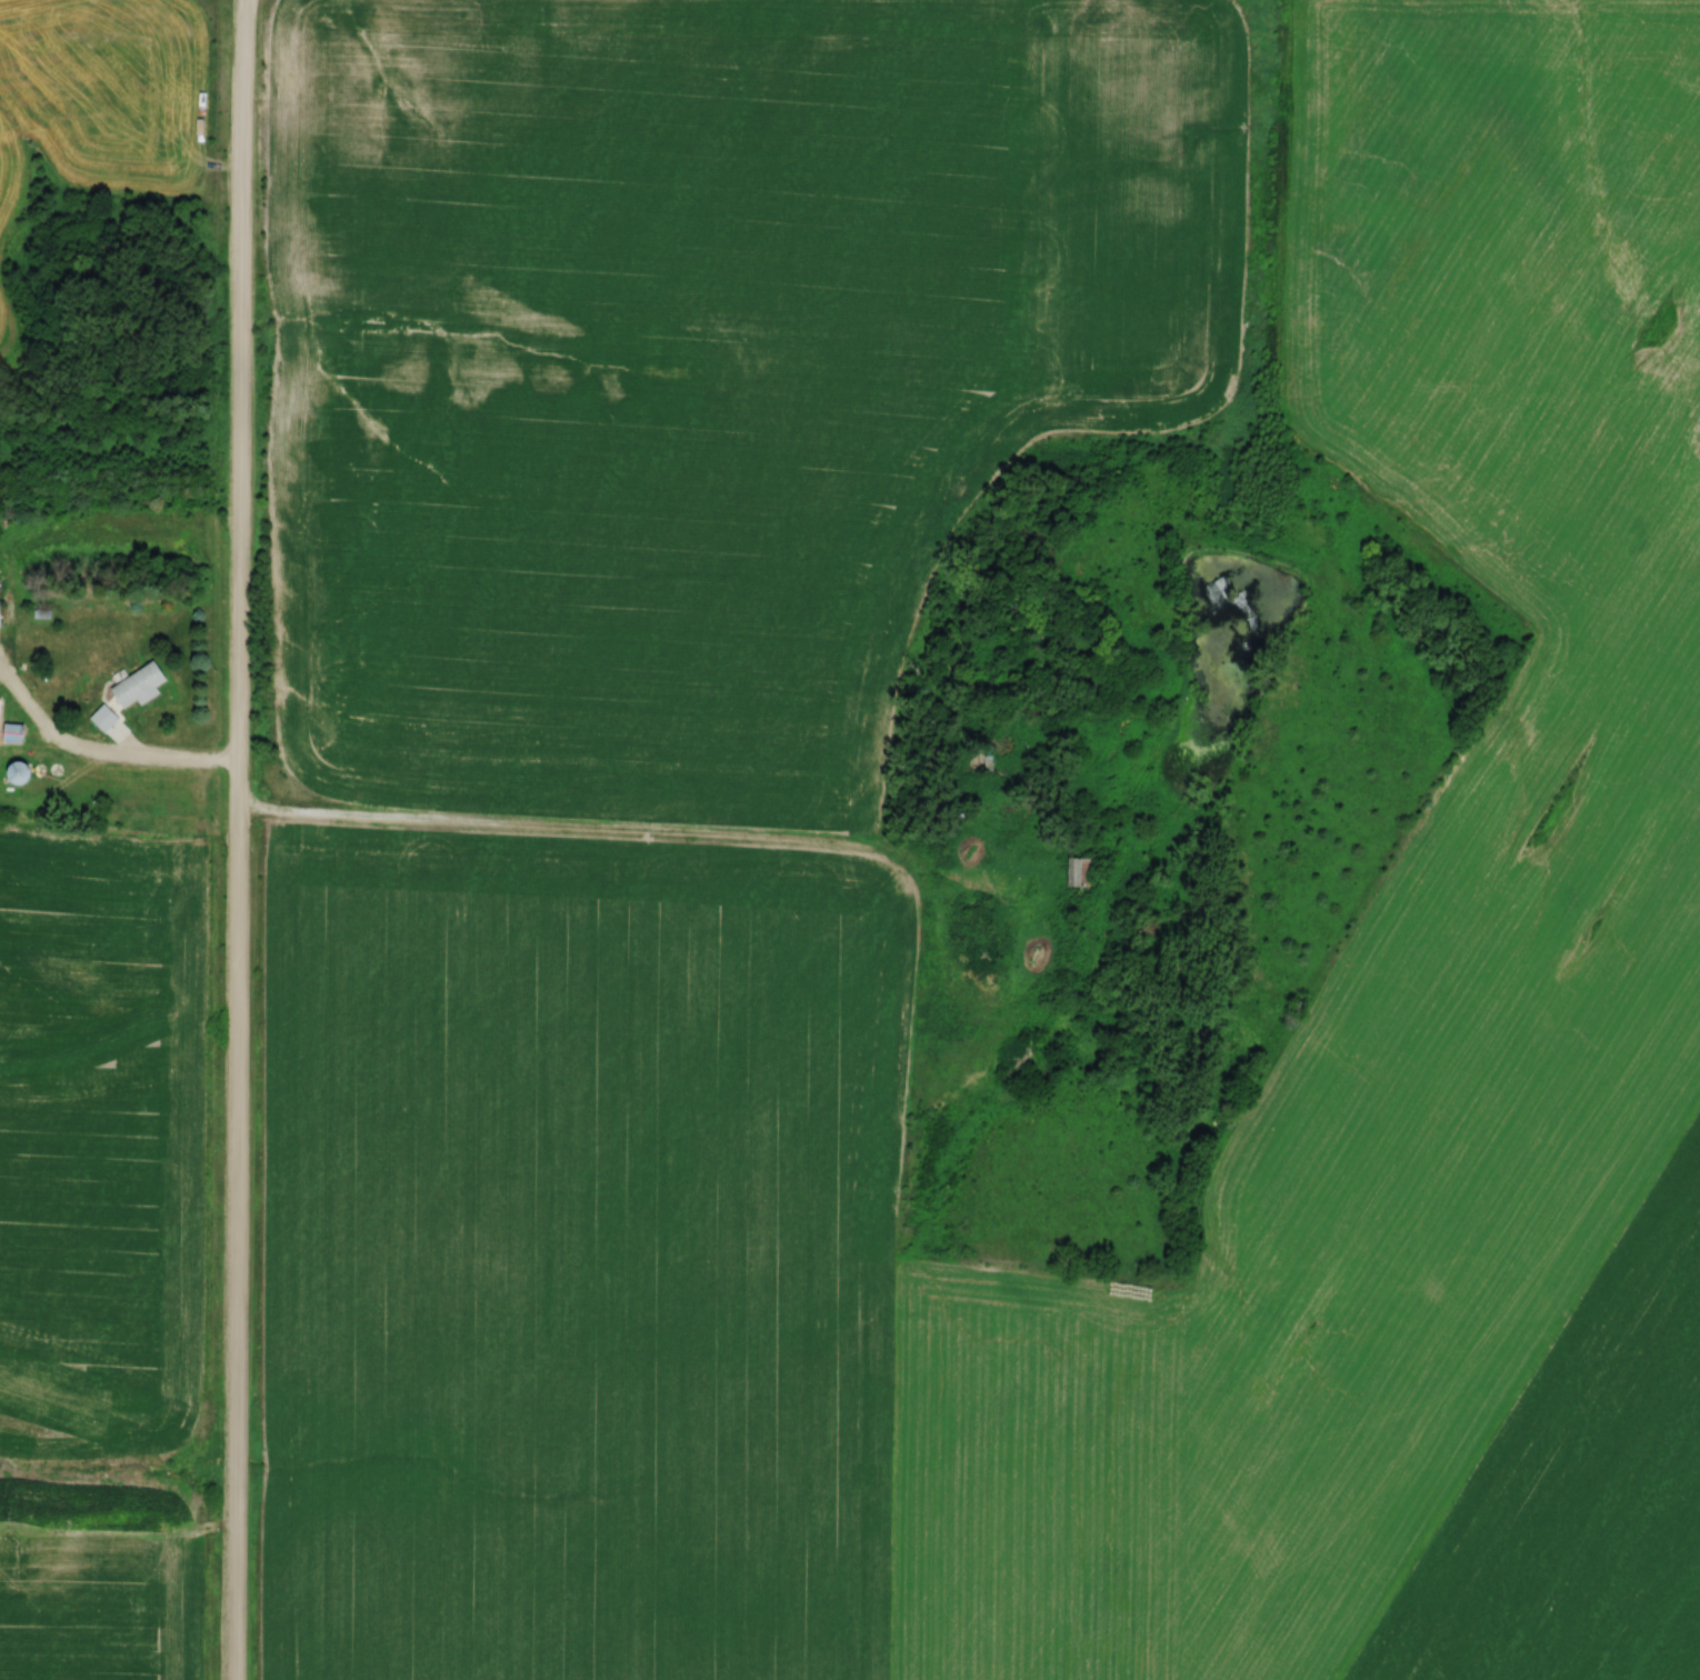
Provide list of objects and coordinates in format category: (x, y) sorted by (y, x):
building: (0, 613)
building: (129, 693)
building: (0, 719)
building: (14, 733)
road: (107, 754)
building: (980, 754)
road: (246, 840)
building: (1077, 870)

